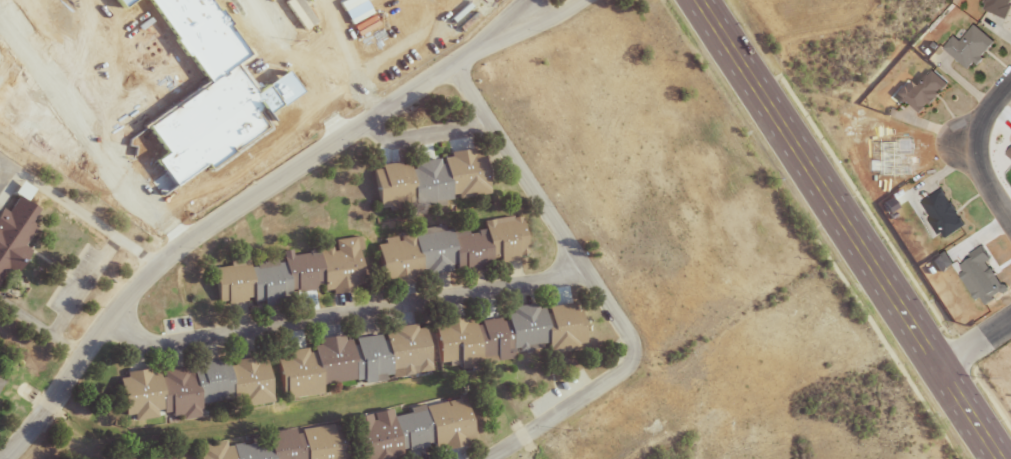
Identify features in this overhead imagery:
building: (995, 7)
building: (965, 47)
building: (917, 91)
road: (418, 135)
road: (967, 148)
building: (1008, 152)
building: (426, 180)
road: (247, 200)
building: (937, 214)
road: (549, 222)
road: (844, 229)
building: (12, 234)
building: (446, 250)
building: (940, 261)
building: (286, 275)
building: (979, 276)
road: (339, 313)
building: (503, 335)
road: (973, 343)
building: (389, 353)
building: (310, 367)
building: (187, 388)
road: (549, 418)
building: (408, 430)
building: (278, 446)
building: (158, 456)

